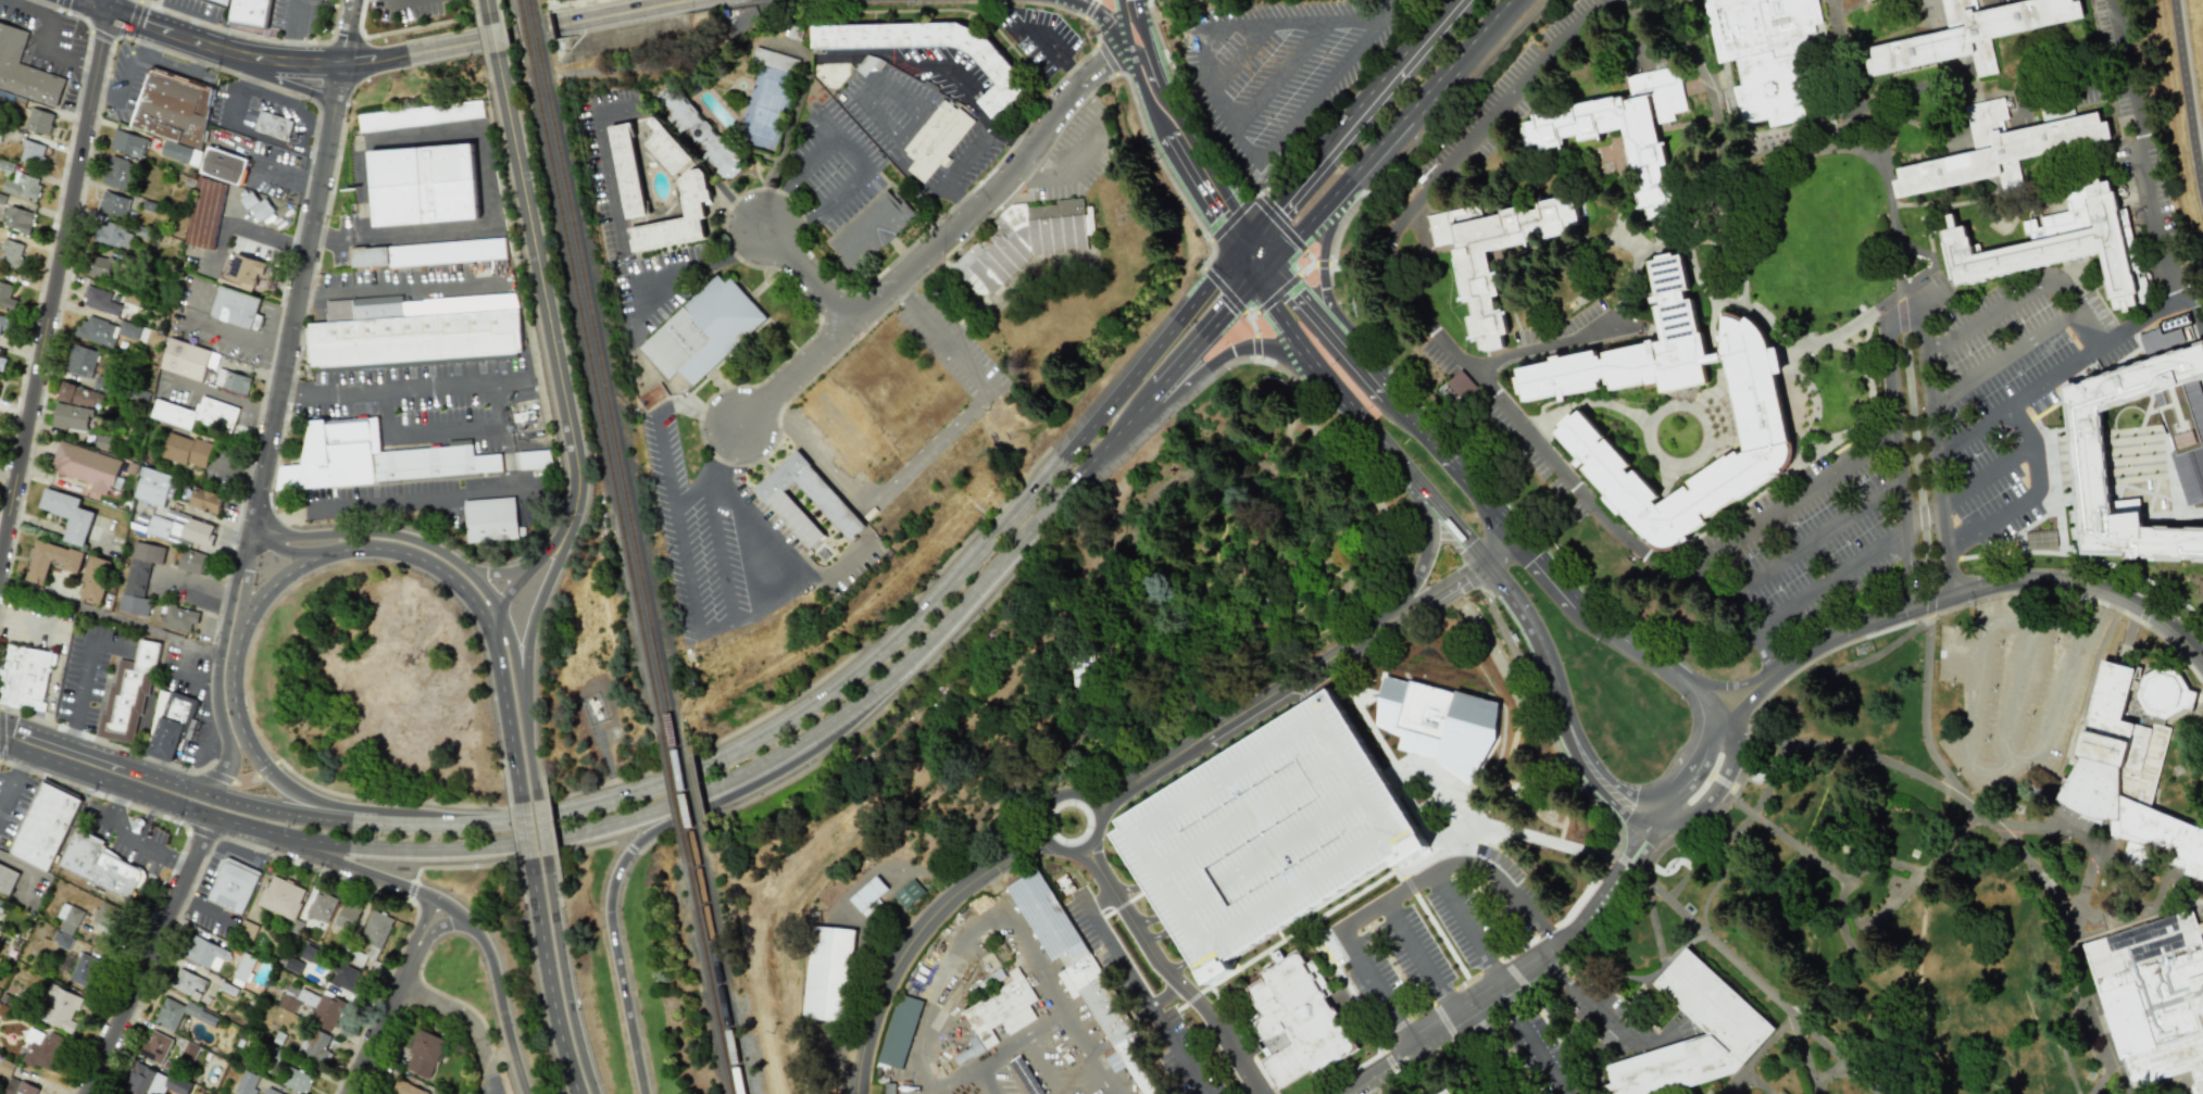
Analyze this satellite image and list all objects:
road: (391, 1)
road: (402, 1)
building: (221, 2)
road: (86, 4)
road: (99, 4)
road: (1386, 7)
parking lot: (199, 8)
road: (1089, 8)
parking lot: (403, 10)
building: (251, 12)
parking lot: (303, 14)
road: (1101, 16)
road: (1588, 17)
road: (360, 18)
road: (1123, 20)
road: (416, 27)
road: (1094, 27)
railway: (535, 30)
road: (295, 32)
railway: (525, 32)
road: (1484, 33)
building: (1969, 33)
road: (346, 34)
road: (511, 34)
road: (47, 35)
parking lot: (1038, 37)
road: (192, 40)
road: (486, 43)
road: (1148, 50)
building: (1762, 53)
road: (1053, 55)
road: (1239, 56)
road: (1104, 59)
building: (775, 60)
road: (1102, 61)
road: (315, 65)
parking lot: (1275, 67)
building: (998, 68)
building: (24, 70)
road: (1146, 72)
road: (1843, 73)
road: (1280, 75)
road: (130, 76)
road: (288, 85)
road: (2188, 86)
road: (2070, 88)
road: (1905, 90)
road: (336, 91)
road: (1143, 92)
road: (1986, 96)
parking lot: (1503, 100)
road: (915, 103)
road: (973, 104)
road: (1451, 105)
park: (765, 106)
building: (174, 108)
road: (1218, 108)
road: (638, 111)
building: (420, 115)
road: (1175, 115)
road: (1719, 117)
road: (1352, 120)
building: (39, 121)
building: (272, 124)
road: (1687, 124)
road: (1398, 127)
road: (245, 128)
building: (698, 129)
building: (0, 130)
building: (1625, 131)
road: (1933, 131)
building: (935, 139)
building: (127, 143)
building: (2001, 147)
building: (664, 148)
building: (32, 153)
building: (180, 153)
road: (1156, 158)
road: (1074, 162)
building: (222, 164)
road: (481, 165)
parking lot: (829, 167)
building: (626, 169)
road: (1025, 171)
building: (117, 173)
road: (952, 174)
road: (2142, 174)
road: (286, 179)
road: (796, 179)
road: (2068, 181)
building: (421, 185)
building: (22, 186)
road: (1211, 186)
road: (1886, 187)
road: (841, 191)
road: (1622, 193)
road: (1256, 200)
road: (1952, 203)
building: (113, 204)
building: (256, 206)
building: (693, 210)
road: (1703, 210)
building: (205, 213)
building: (17, 219)
road: (1305, 222)
road: (239, 225)
building: (871, 228)
building: (112, 235)
building: (1024, 238)
building: (2053, 243)
road: (1259, 250)
building: (10, 253)
building: (427, 253)
road: (1922, 253)
road: (1210, 254)
road: (1733, 254)
road: (1309, 257)
road: (1322, 257)
road: (1249, 261)
road: (919, 265)
road: (1309, 266)
building: (101, 267)
building: (245, 268)
road: (687, 269)
road: (1262, 269)
building: (1476, 274)
road: (52, 279)
road: (806, 279)
road: (1353, 279)
road: (537, 282)
road: (396, 286)
road: (1224, 289)
road: (1904, 290)
road: (1276, 293)
road: (1304, 293)
road: (2021, 295)
building: (7, 297)
building: (99, 300)
road: (1720, 301)
building: (236, 307)
road: (1252, 315)
road: (1280, 316)
road: (1250, 323)
road: (2138, 323)
building: (5, 324)
road: (290, 325)
building: (703, 330)
building: (97, 331)
road: (218, 332)
road: (1205, 334)
building: (413, 338)
road: (943, 338)
road: (1540, 345)
road: (1254, 347)
parking lot: (952, 349)
road: (2001, 355)
building: (77, 360)
building: (185, 360)
road: (1714, 360)
road: (1213, 361)
road: (1364, 361)
building: (2, 363)
building: (230, 380)
road: (402, 385)
parking lot: (2008, 385)
building: (1456, 387)
road: (1336, 388)
building: (78, 395)
road: (228, 397)
road: (1588, 401)
road: (2015, 402)
road: (1146, 403)
railway: (611, 406)
road: (1690, 407)
railway: (600, 408)
building: (199, 413)
road: (1513, 415)
building: (71, 417)
building: (1760, 418)
road: (443, 431)
building: (841, 431)
road: (1335, 444)
road: (1914, 445)
road: (2028, 449)
building: (186, 450)
building: (2087, 450)
road: (1811, 452)
building: (375, 457)
road: (1395, 458)
building: (534, 460)
road: (1452, 464)
building: (86, 467)
road: (510, 469)
road: (1982, 476)
road: (2055, 483)
road: (2170, 483)
road: (2154, 485)
building: (152, 487)
road: (1663, 488)
road: (2142, 491)
road: (2074, 495)
building: (205, 501)
road: (879, 503)
road: (368, 506)
building: (834, 507)
building: (67, 515)
road: (2175, 515)
road: (2202, 516)
road: (208, 518)
road: (712, 518)
building: (489, 519)
road: (1991, 526)
road: (562, 527)
road: (1454, 528)
building: (180, 531)
road: (1134, 533)
road: (389, 535)
road: (1819, 535)
parking lot: (733, 541)
parking lot: (1804, 541)
road: (284, 548)
road: (1498, 548)
railway: (662, 550)
road: (2073, 554)
road: (1003, 557)
road: (1425, 557)
building: (50, 561)
building: (190, 562)
road: (1544, 570)
road: (493, 573)
road: (811, 575)
building: (139, 577)
building: (93, 579)
road: (546, 581)
road: (1830, 583)
road: (246, 588)
road: (512, 589)
road: (1441, 589)
road: (1962, 594)
road: (992, 598)
road: (1963, 604)
road: (109, 616)
road: (483, 616)
road: (724, 616)
building: (179, 618)
road: (493, 619)
road: (1529, 623)
road: (1502, 630)
road: (2127, 631)
road: (889, 644)
road: (111, 645)
road: (234, 649)
road: (1650, 655)
road: (216, 665)
road: (196, 671)
building: (25, 677)
parking lot: (2017, 683)
road: (2015, 686)
road: (77, 693)
building: (2163, 693)
building: (127, 695)
road: (1306, 701)
road: (522, 704)
road: (1250, 716)
building: (1437, 718)
road: (1931, 719)
building: (170, 726)
road: (1785, 733)
road: (1, 734)
road: (33, 734)
road: (1544, 737)
road: (11, 746)
road: (1869, 754)
road: (93, 755)
road: (773, 755)
road: (1589, 756)
road: (1694, 765)
road: (1581, 771)
road: (12, 779)
building: (2127, 780)
road: (1049, 799)
road: (1705, 802)
road: (327, 805)
road: (258, 806)
railway: (690, 806)
railway: (680, 809)
road: (1704, 815)
road: (146, 820)
building: (45, 823)
road: (541, 827)
road: (525, 831)
building: (1266, 835)
parking garage: (1266, 835)
road: (653, 838)
road: (130, 841)
road: (341, 843)
road: (596, 844)
road: (630, 847)
road: (1575, 847)
road: (1806, 850)
building: (99, 864)
road: (459, 867)
road: (27, 871)
road: (1402, 873)
road: (1643, 878)
building: (5, 879)
road: (1118, 881)
road: (1715, 884)
road: (2167, 884)
building: (233, 885)
road: (1370, 885)
road: (1409, 885)
road: (411, 890)
road: (1584, 890)
road: (1400, 892)
building: (867, 893)
building: (908, 893)
building: (280, 896)
road: (1099, 900)
road: (2202, 903)
road: (1134, 904)
road: (2071, 905)
road: (202, 907)
building: (321, 907)
road: (1840, 913)
road: (1886, 913)
building: (107, 915)
building: (347, 916)
road: (460, 918)
building: (68, 919)
building: (2200, 927)
road: (1152, 928)
road: (416, 929)
building: (375, 931)
road: (1465, 931)
road: (1544, 931)
road: (431, 934)
building: (61, 940)
road: (613, 940)
road: (913, 940)
parking lot: (1440, 942)
road: (1444, 943)
road: (1517, 947)
road: (149, 953)
building: (205, 953)
building: (311, 954)
building: (352, 955)
road: (1171, 958)
road: (1420, 959)
road: (2079, 963)
road: (1488, 966)
building: (84, 970)
building: (242, 970)
road: (627, 970)
building: (1081, 971)
road: (1527, 972)
road: (1171, 973)
road: (564, 976)
building: (828, 976)
building: (994, 976)
building: (343, 977)
road: (549, 977)
railway: (724, 977)
road: (1473, 977)
railway: (713, 980)
road: (1915, 982)
building: (187, 983)
road: (1049, 983)
parking lot: (1149, 993)
road: (1164, 994)
road: (1767, 995)
road: (1190, 998)
building: (2153, 998)
road: (1148, 1003)
road: (925, 1005)
building: (1714, 1006)
building: (59, 1008)
building: (327, 1009)
building: (997, 1010)
building: (179, 1014)
road: (458, 1015)
road: (1602, 1016)
building: (1298, 1019)
road: (377, 1027)
building: (899, 1031)
road: (1022, 1042)
road: (1531, 1042)
road: (2063, 1042)
building: (313, 1044)
building: (154, 1046)
building: (40, 1048)
road: (1491, 1053)
building: (424, 1054)
road: (1754, 1055)
road: (1805, 1056)
road: (2105, 1057)
building: (183, 1060)
building: (5, 1067)
road: (1042, 1067)
road: (1827, 1072)
road: (2119, 1073)
building: (296, 1080)
road: (1756, 1080)
building: (153, 1081)
road: (984, 1082)
building: (246, 1083)
road: (490, 1083)
building: (17, 1086)
building: (888, 1087)
building: (406, 1089)
building: (270, 1091)
building: (1445, 1092)
road: (1114, 1093)
road: (1115, 1093)

